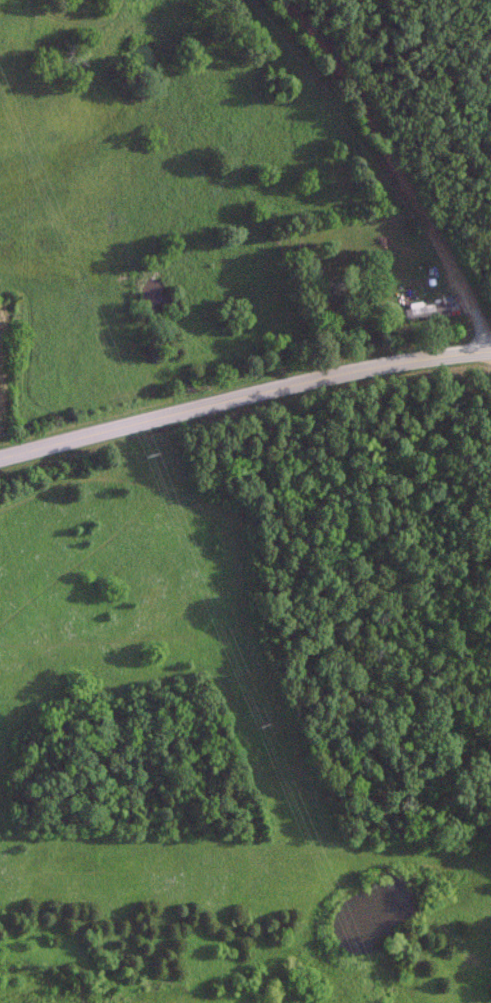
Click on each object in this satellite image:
road: (399, 148)
building: (425, 310)
road: (243, 395)
power tower: (143, 454)
power tower: (253, 724)

